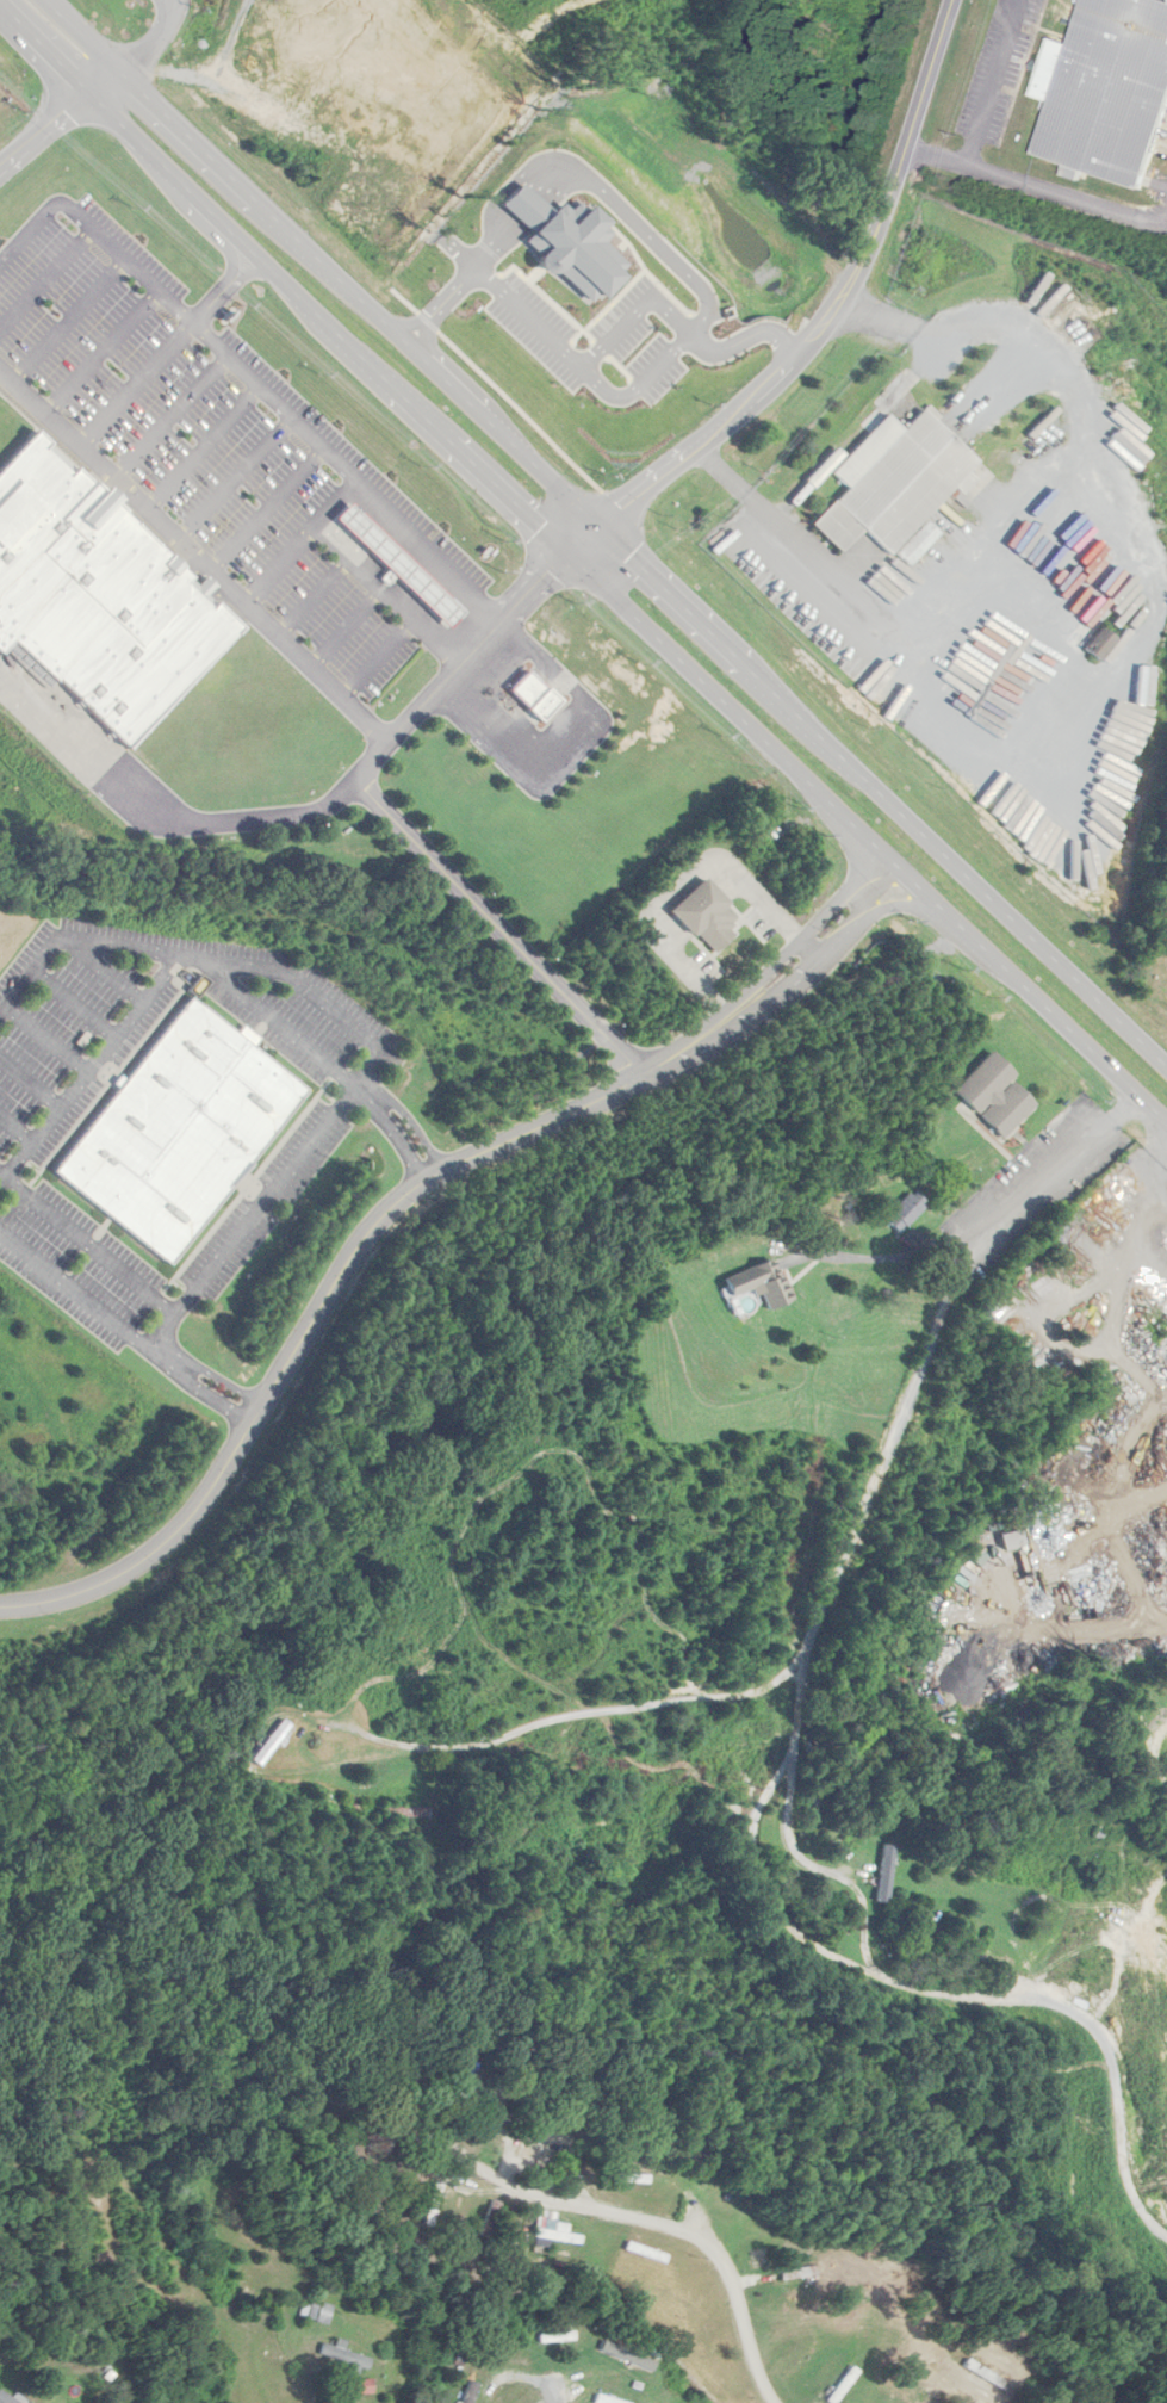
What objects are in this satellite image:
road: (166, 6)
road: (149, 41)
building: (1106, 92)
road: (981, 110)
road: (57, 120)
road: (507, 182)
road: (597, 202)
road: (206, 228)
road: (97, 230)
building: (553, 241)
road: (259, 270)
road: (46, 274)
road: (215, 297)
road: (437, 305)
road: (823, 317)
road: (67, 322)
road: (679, 329)
road: (559, 349)
road: (98, 351)
road: (134, 385)
road: (167, 416)
parking lot: (181, 433)
road: (199, 447)
road: (348, 470)
road: (231, 478)
building: (894, 484)
road: (265, 509)
road: (607, 529)
road: (298, 540)
road: (194, 559)
road: (582, 563)
building: (398, 565)
road: (310, 596)
road: (385, 596)
building: (92, 597)
road: (343, 627)
building: (1103, 640)
road: (375, 657)
road: (1115, 670)
road: (489, 673)
building: (527, 688)
road: (567, 747)
road: (314, 809)
road: (677, 880)
building: (704, 916)
road: (499, 928)
road: (204, 956)
road: (99, 970)
road: (70, 1001)
road: (280, 1022)
road: (44, 1035)
road: (88, 1063)
road: (27, 1079)
building: (995, 1096)
road: (14, 1122)
road: (414, 1123)
building: (179, 1131)
road: (398, 1134)
road: (403, 1199)
building: (904, 1212)
road: (254, 1214)
road: (985, 1226)
road: (87, 1245)
building: (756, 1286)
road: (82, 1298)
road: (218, 1377)
road: (207, 1395)
building: (1013, 1538)
building: (976, 1557)
road: (792, 1670)
building: (271, 1742)
building: (405, 1810)
building: (884, 1871)
building: (1141, 1906)
road: (863, 1912)
building: (626, 2178)
building: (434, 2204)
road: (656, 2217)
building: (554, 2237)
building: (646, 2253)
building: (796, 2273)
building: (315, 2311)
building: (558, 2336)
building: (802, 2353)
building: (347, 2356)
building: (733, 2385)
building: (365, 2386)
road: (987, 2391)
building: (471, 2392)
road: (557, 2392)
building: (6, 2398)
road: (341, 2399)
building: (607, 2399)

